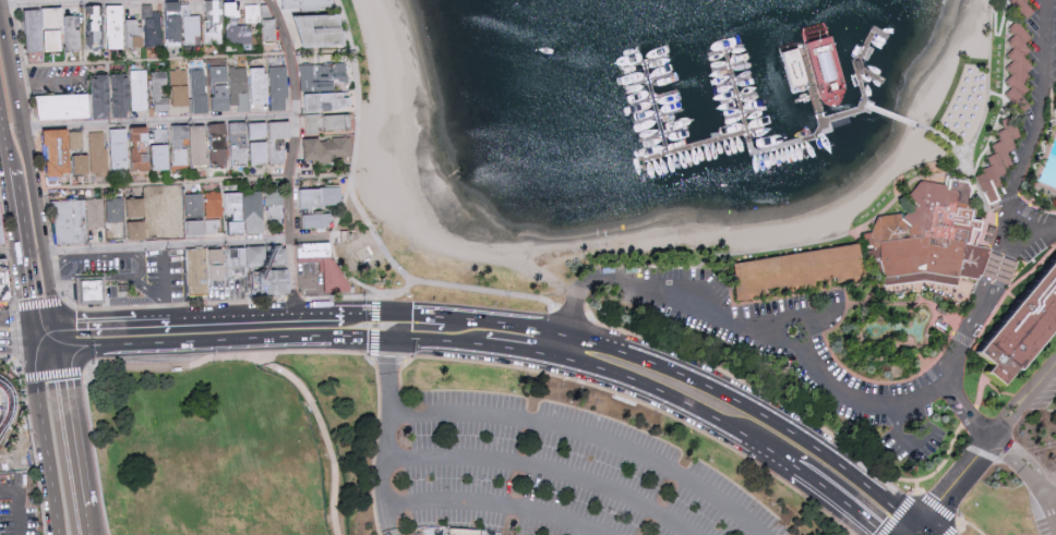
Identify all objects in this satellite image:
road: (87, 3)
building: (307, 4)
building: (1018, 7)
building: (232, 9)
building: (252, 13)
building: (214, 22)
building: (96, 25)
building: (116, 26)
building: (180, 26)
building: (146, 28)
building: (51, 29)
building: (323, 29)
building: (237, 34)
road: (181, 60)
building: (1015, 65)
building: (322, 76)
road: (47, 81)
building: (180, 87)
building: (230, 87)
building: (159, 90)
building: (200, 92)
pier: (864, 93)
building: (120, 94)
building: (327, 101)
building: (64, 107)
pier: (659, 107)
building: (338, 121)
road: (158, 123)
pier: (911, 124)
road: (1, 131)
pier: (825, 132)
building: (142, 133)
road: (1035, 134)
road: (21, 135)
pier: (753, 137)
road: (4, 141)
building: (269, 141)
pier: (710, 143)
building: (206, 146)
building: (326, 149)
building: (120, 150)
building: (56, 153)
road: (293, 156)
building: (142, 160)
building: (996, 161)
road: (191, 184)
road: (5, 193)
building: (321, 196)
building: (175, 199)
road: (14, 210)
building: (116, 210)
building: (259, 210)
building: (146, 217)
building: (321, 220)
building: (71, 223)
road: (371, 226)
building: (203, 227)
road: (1036, 233)
building: (1, 235)
building: (929, 238)
road: (189, 245)
road: (332, 246)
building: (312, 252)
road: (10, 254)
road: (104, 255)
building: (256, 256)
road: (41, 264)
road: (22, 268)
building: (216, 268)
building: (199, 271)
road: (996, 272)
building: (997, 272)
road: (107, 277)
building: (264, 281)
road: (164, 284)
building: (3, 287)
building: (88, 291)
road: (48, 302)
road: (240, 303)
road: (27, 304)
road: (13, 309)
road: (387, 315)
traffic signals: (413, 316)
road: (440, 318)
road: (266, 319)
road: (574, 319)
road: (811, 320)
road: (776, 321)
road: (121, 325)
road: (509, 325)
road: (15, 326)
building: (1020, 326)
traffic signals: (32, 327)
road: (43, 327)
road: (410, 327)
traffic signals: (412, 327)
traffic signals: (55, 328)
road: (33, 337)
road: (57, 338)
traffic signals: (369, 340)
road: (271, 343)
road: (373, 345)
road: (16, 346)
traffic signals: (34, 348)
road: (46, 348)
traffic signals: (59, 349)
road: (524, 351)
road: (231, 356)
traffic signals: (392, 364)
road: (52, 375)
road: (816, 375)
road: (392, 378)
theme park: (13, 397)
road: (686, 403)
road: (645, 405)
road: (790, 409)
road: (758, 410)
road: (71, 427)
road: (324, 431)
road: (586, 435)
road: (33, 439)
road: (47, 440)
road: (986, 445)
road: (913, 446)
road: (1005, 451)
park: (413, 453)
parking lot: (543, 474)
road: (393, 476)
road: (548, 476)
road: (917, 488)
road: (1048, 493)
road: (922, 498)
road: (843, 500)
parking lot: (17, 504)
road: (17, 506)
road: (496, 506)
parking lot: (1043, 507)
road: (86, 521)
road: (971, 526)
traffic signals: (922, 528)
road: (919, 532)
road: (925, 532)

